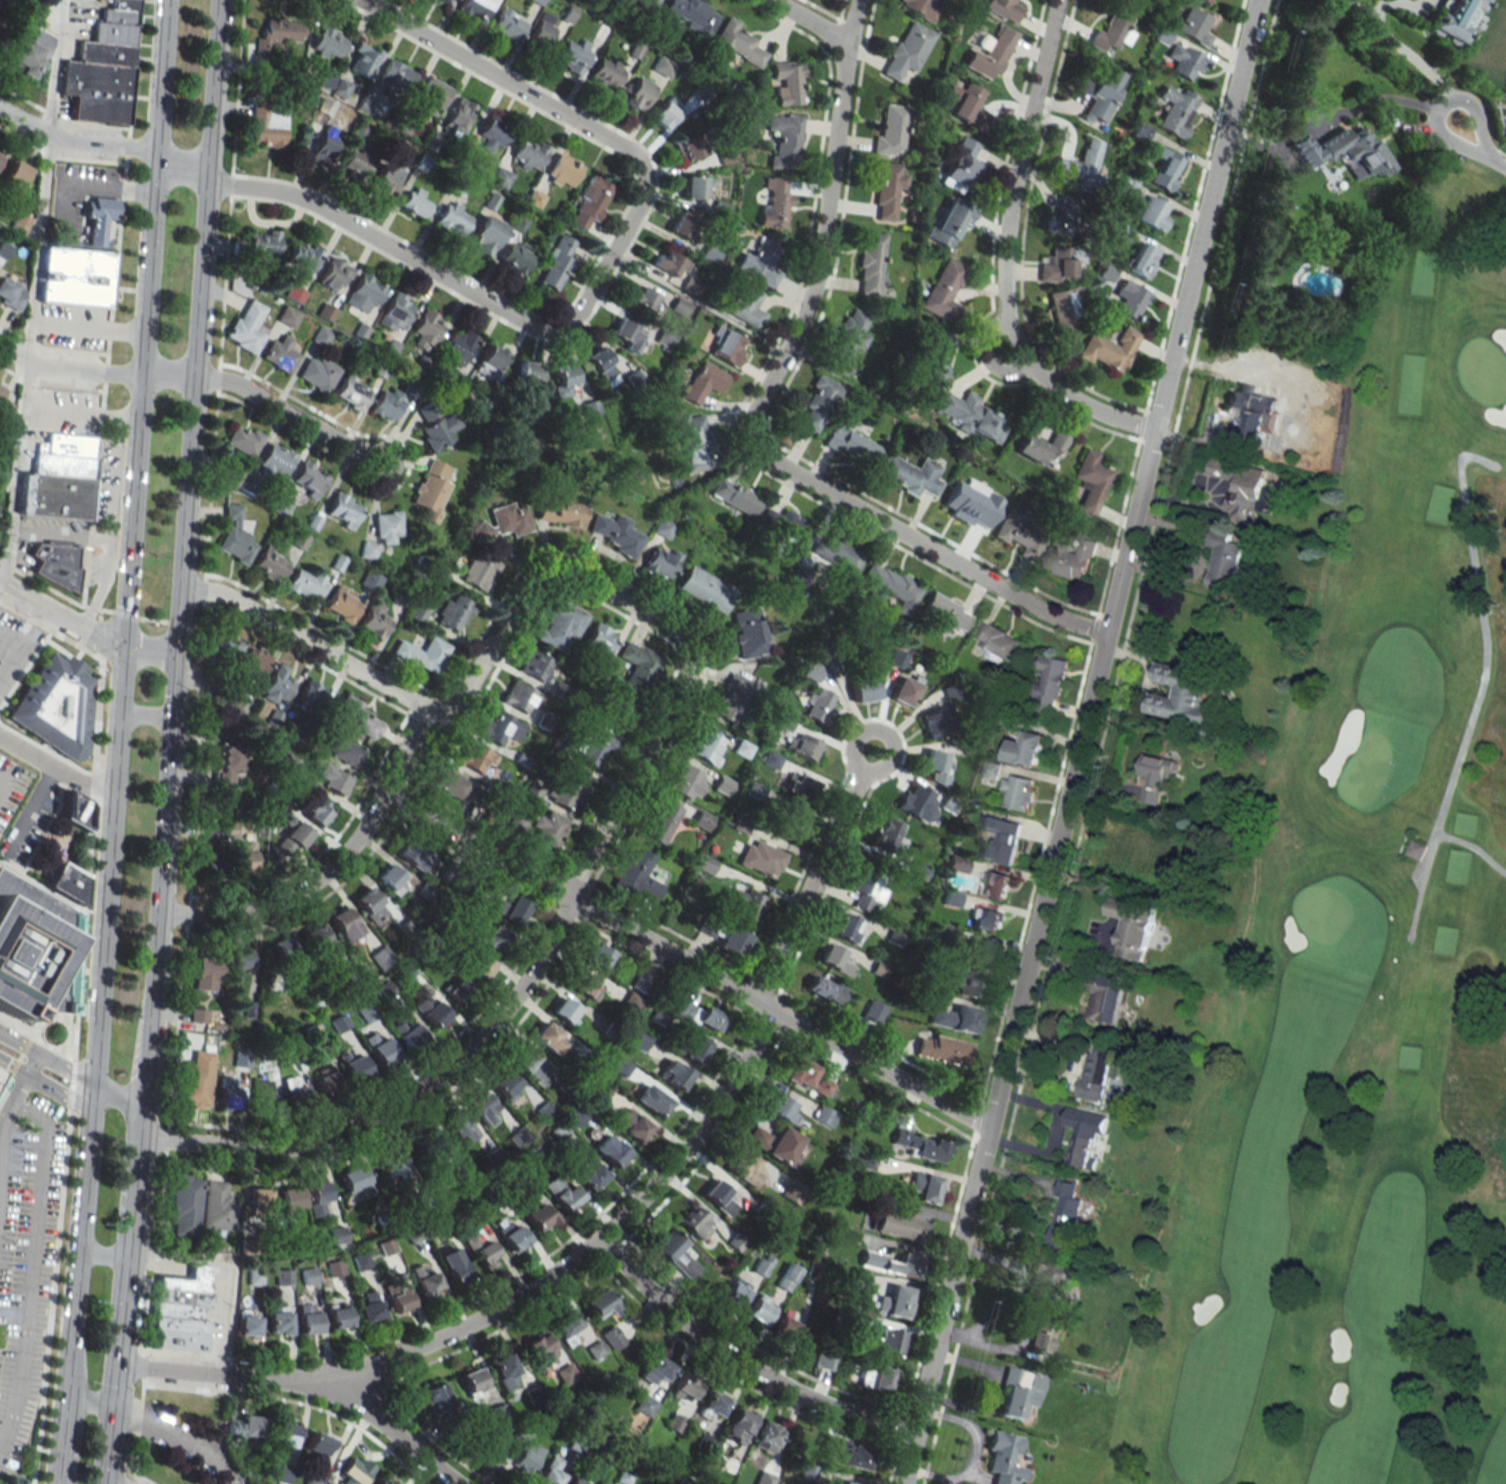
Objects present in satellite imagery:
building: (445, 1)
building: (647, 4)
road: (1356, 5)
road: (1409, 5)
building: (921, 7)
building: (474, 8)
building: (1004, 9)
building: (693, 15)
building: (1455, 19)
road: (810, 21)
road: (852, 21)
building: (508, 23)
building: (1194, 25)
building: (542, 30)
building: (1111, 31)
building: (277, 34)
building: (328, 43)
building: (736, 43)
building: (907, 50)
building: (30, 53)
road: (1408, 54)
building: (574, 55)
building: (990, 55)
building: (363, 59)
building: (1184, 60)
building: (663, 66)
road: (54, 67)
building: (104, 67)
building: (399, 73)
building: (607, 73)
building: (788, 82)
building: (341, 88)
building: (1099, 93)
building: (639, 94)
building: (430, 96)
road: (19, 97)
building: (968, 106)
building: (1176, 111)
building: (459, 115)
building: (664, 115)
building: (267, 127)
building: (891, 129)
building: (494, 133)
building: (1299, 133)
road: (17, 139)
building: (785, 139)
road: (89, 143)
road: (1474, 145)
building: (690, 148)
building: (1354, 150)
building: (322, 152)
building: (529, 153)
building: (727, 155)
building: (961, 164)
building: (1083, 164)
building: (356, 165)
building: (1165, 169)
building: (564, 171)
building: (15, 175)
road: (195, 175)
building: (501, 178)
building: (386, 181)
building: (1128, 184)
building: (696, 186)
building: (887, 189)
road: (98, 191)
building: (416, 201)
building: (775, 202)
building: (590, 204)
building: (1154, 213)
building: (1068, 215)
building: (99, 217)
building: (454, 218)
building: (20, 222)
building: (948, 224)
building: (684, 225)
building: (1118, 231)
building: (487, 235)
building: (263, 244)
road: (38, 248)
building: (3, 249)
road: (1003, 254)
building: (302, 258)
building: (515, 258)
building: (763, 260)
building: (1142, 260)
building: (558, 262)
building: (670, 263)
building: (871, 264)
building: (1058, 264)
building: (1107, 272)
building: (335, 275)
building: (76, 277)
road: (600, 277)
building: (944, 292)
building: (365, 293)
building: (10, 294)
building: (294, 294)
building: (643, 297)
building: (1130, 298)
building: (745, 305)
building: (327, 312)
building: (1066, 312)
building: (396, 313)
building: (288, 316)
building: (247, 326)
road: (88, 327)
road: (8, 328)
building: (427, 329)
building: (626, 331)
building: (322, 336)
building: (848, 341)
building: (727, 346)
building: (460, 347)
building: (1110, 349)
building: (280, 354)
building: (931, 355)
road: (983, 355)
building: (490, 361)
building: (602, 364)
road: (81, 370)
building: (318, 373)
building: (528, 373)
building: (564, 380)
building: (704, 382)
road: (68, 388)
building: (1, 391)
building: (352, 392)
building: (1236, 400)
building: (388, 404)
building: (818, 404)
building: (5, 408)
road: (277, 408)
road: (74, 413)
building: (971, 415)
road: (218, 421)
building: (1253, 423)
building: (439, 430)
road: (751, 436)
building: (243, 439)
building: (695, 442)
building: (852, 444)
building: (1041, 447)
building: (276, 460)
road: (17, 474)
building: (906, 474)
building: (59, 479)
building: (309, 479)
building: (1091, 481)
building: (247, 488)
building: (433, 488)
building: (1245, 489)
building: (735, 495)
building: (964, 509)
building: (343, 510)
building: (560, 511)
road: (111, 515)
building: (505, 521)
building: (663, 527)
building: (786, 527)
building: (384, 531)
building: (615, 532)
building: (1021, 535)
building: (234, 538)
road: (129, 539)
building: (837, 553)
building: (1074, 556)
building: (1223, 559)
road: (181, 560)
building: (55, 562)
building: (270, 563)
building: (479, 570)
building: (371, 581)
building: (306, 583)
building: (892, 586)
building: (705, 588)
building: (343, 602)
road: (17, 604)
building: (455, 612)
building: (417, 613)
building: (946, 613)
building: (374, 621)
road: (659, 621)
building: (561, 624)
parking lot: (8, 631)
road: (83, 632)
building: (747, 634)
road: (13, 638)
building: (599, 639)
road: (305, 641)
building: (995, 641)
building: (227, 645)
road: (23, 648)
building: (423, 653)
building: (899, 657)
building: (254, 662)
building: (535, 665)
building: (638, 666)
road: (1479, 677)
road: (0, 683)
building: (1050, 683)
building: (277, 685)
building: (863, 688)
building: (904, 691)
building: (312, 694)
building: (1184, 695)
building: (730, 697)
building: (521, 698)
building: (819, 704)
building: (55, 706)
road: (144, 716)
building: (360, 718)
building: (935, 723)
building: (500, 727)
road: (1079, 742)
building: (705, 745)
building: (803, 745)
building: (743, 746)
building: (594, 748)
building: (1026, 749)
building: (345, 751)
building: (475, 757)
building: (771, 759)
road: (856, 761)
road: (54, 766)
building: (227, 766)
building: (936, 766)
building: (991, 769)
building: (1156, 776)
road: (3, 778)
building: (331, 779)
building: (687, 781)
building: (451, 783)
building: (800, 785)
parking lot: (9, 787)
building: (569, 789)
building: (756, 789)
building: (1017, 791)
building: (918, 802)
road: (29, 807)
building: (75, 809)
building: (316, 809)
building: (790, 816)
building: (701, 820)
building: (661, 821)
building: (517, 822)
parking lot: (27, 826)
building: (550, 828)
building: (890, 834)
building: (293, 839)
building: (1002, 839)
road: (1472, 845)
building: (1415, 849)
building: (413, 854)
building: (761, 858)
building: (246, 861)
building: (212, 863)
building: (958, 863)
building: (705, 864)
road: (331, 867)
building: (919, 873)
building: (637, 877)
building: (390, 879)
building: (65, 883)
road: (810, 884)
building: (999, 885)
building: (867, 893)
building: (432, 895)
building: (951, 898)
building: (746, 903)
building: (370, 904)
building: (511, 909)
building: (987, 918)
building: (345, 923)
building: (847, 927)
building: (1132, 927)
building: (494, 937)
building: (317, 940)
building: (731, 941)
building: (285, 949)
building: (35, 951)
building: (978, 952)
building: (598, 956)
building: (381, 957)
building: (240, 959)
building: (835, 959)
park: (1362, 960)
road: (683, 961)
building: (479, 965)
building: (205, 973)
building: (968, 983)
building: (586, 986)
building: (824, 989)
building: (457, 990)
building: (1106, 999)
building: (430, 1010)
building: (565, 1011)
building: (873, 1011)
building: (698, 1014)
building: (955, 1018)
building: (339, 1023)
building: (408, 1034)
building: (549, 1038)
building: (640, 1040)
building: (380, 1049)
building: (694, 1049)
building: (943, 1049)
road: (46, 1054)
building: (241, 1058)
road: (33, 1063)
building: (354, 1066)
building: (534, 1067)
building: (1096, 1072)
building: (674, 1074)
building: (807, 1076)
building: (327, 1080)
building: (1, 1081)
parking lot: (1, 1081)
building: (196, 1081)
building: (506, 1084)
road: (45, 1085)
road: (124, 1091)
building: (227, 1092)
building: (262, 1092)
building: (295, 1094)
road: (13, 1098)
building: (652, 1100)
road: (398, 1102)
building: (481, 1106)
building: (781, 1108)
building: (577, 1114)
building: (825, 1115)
building: (629, 1123)
building: (461, 1127)
building: (757, 1137)
building: (1084, 1138)
building: (784, 1145)
building: (920, 1145)
building: (433, 1146)
building: (610, 1150)
building: (864, 1162)
building: (390, 1164)
building: (746, 1169)
road: (133, 1170)
building: (590, 1174)
building: (354, 1180)
building: (924, 1186)
building: (562, 1191)
building: (794, 1192)
building: (315, 1196)
building: (722, 1197)
building: (185, 1200)
building: (257, 1201)
building: (290, 1201)
building: (216, 1208)
building: (538, 1216)
building: (1065, 1216)
road: (79, 1221)
building: (694, 1221)
building: (900, 1226)
building: (337, 1234)
building: (510, 1234)
building: (482, 1251)
building: (675, 1253)
road: (100, 1256)
building: (887, 1262)
parking lot: (25, 1264)
building: (453, 1264)
building: (762, 1264)
road: (31, 1265)
road: (228, 1266)
building: (334, 1268)
building: (307, 1275)
building: (1048, 1275)
building: (254, 1276)
building: (282, 1277)
building: (786, 1277)
building: (426, 1282)
building: (733, 1293)
building: (398, 1297)
building: (898, 1301)
building: (599, 1303)
road: (502, 1305)
building: (369, 1308)
building: (759, 1308)
building: (180, 1310)
building: (337, 1315)
building: (307, 1318)
building: (277, 1320)
building: (247, 1323)
building: (784, 1324)
building: (565, 1325)
road: (118, 1332)
building: (1039, 1334)
building: (612, 1337)
building: (887, 1342)
building: (541, 1348)
building: (595, 1350)
building: (826, 1358)
road: (739, 1362)
building: (505, 1371)
building: (656, 1371)
building: (566, 1375)
building: (876, 1378)
building: (472, 1380)
building: (681, 1388)
building: (1019, 1392)
building: (436, 1398)
road: (88, 1402)
building: (644, 1405)
road: (64, 1407)
building: (499, 1411)
building: (738, 1424)
building: (243, 1427)
road: (391, 1432)
building: (768, 1434)
road: (176, 1435)
building: (284, 1435)
building: (319, 1444)
building: (849, 1452)
building: (1004, 1458)
building: (524, 1459)
road: (105, 1463)
road: (59, 1466)
building: (354, 1470)
building: (551, 1471)
building: (808, 1471)
building: (576, 1481)
building: (382, 1482)
building: (845, 1482)

